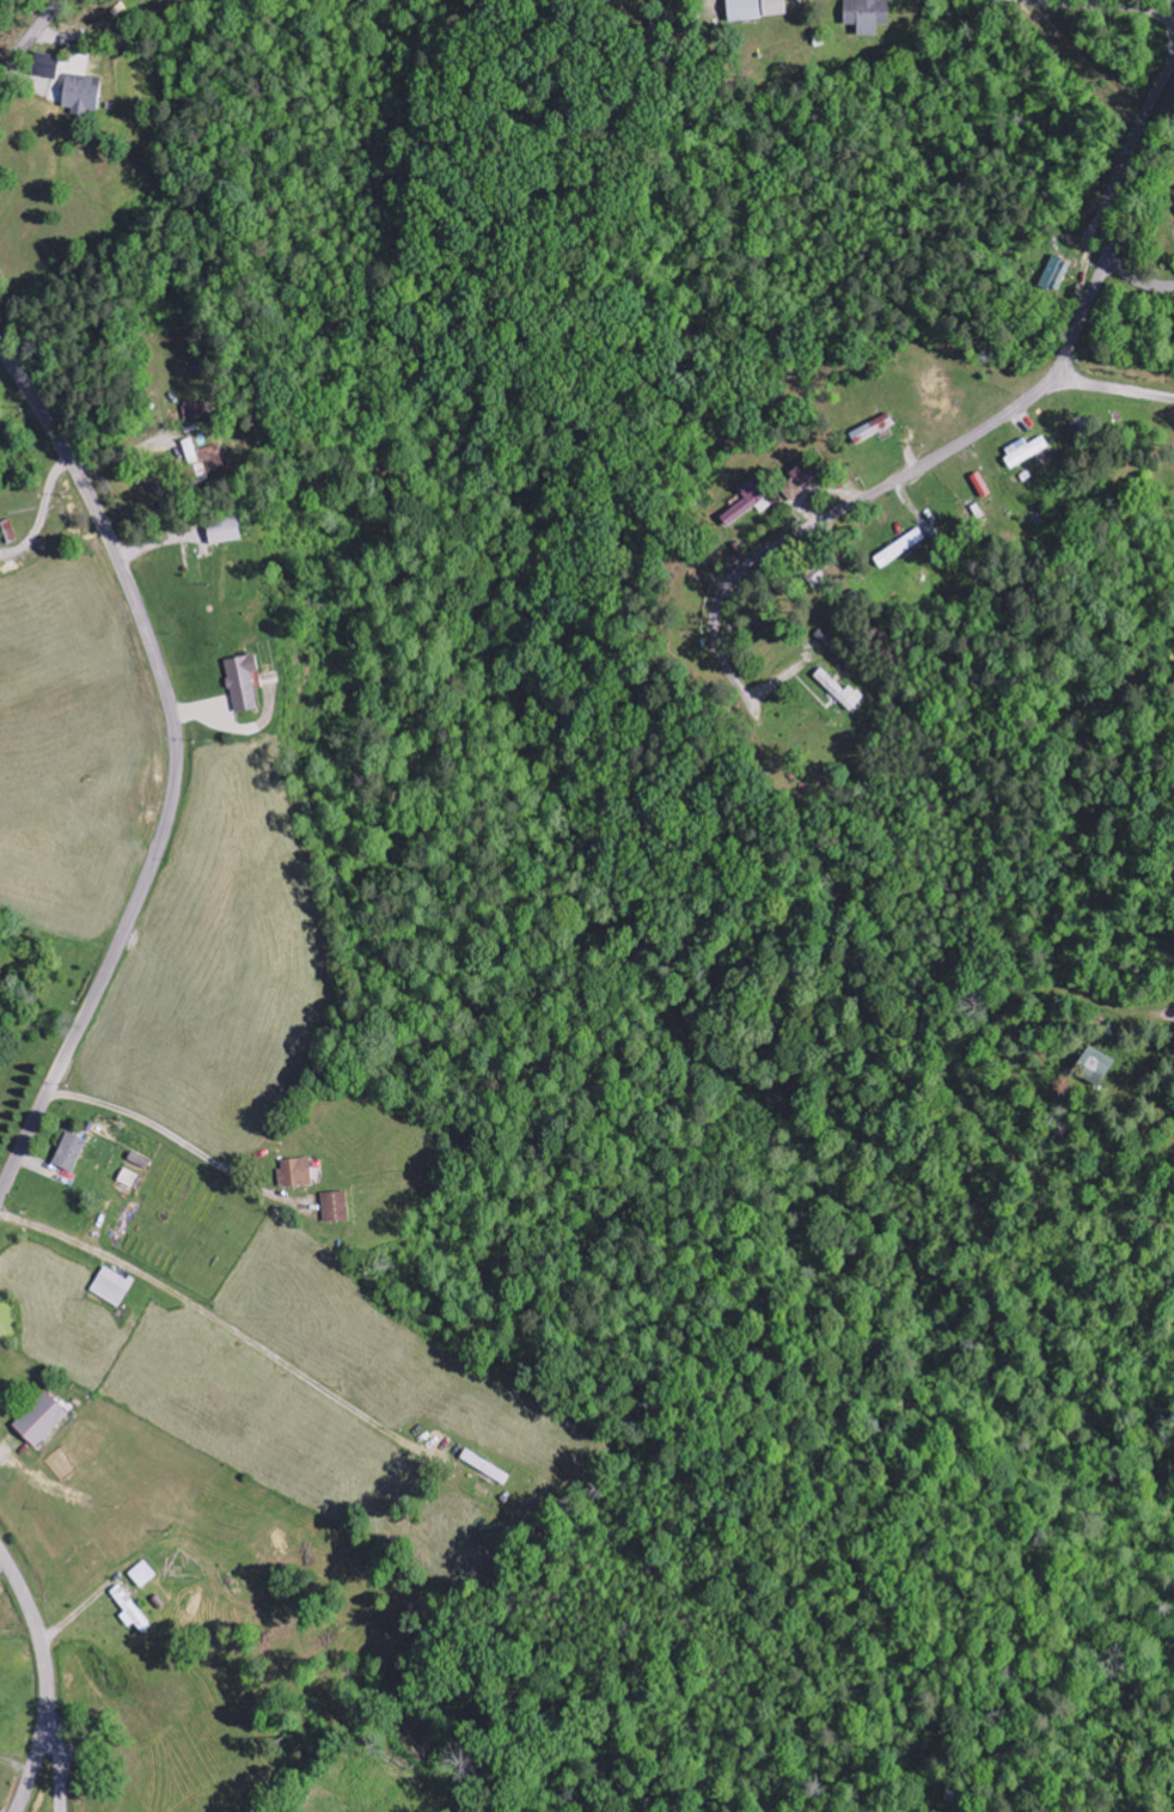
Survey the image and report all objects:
road: (1109, 6)
building: (776, 8)
building: (746, 11)
building: (869, 16)
road: (30, 38)
building: (47, 66)
building: (84, 94)
road: (1108, 187)
building: (1057, 275)
road: (1111, 385)
building: (197, 411)
building: (874, 429)
building: (1026, 452)
building: (806, 475)
road: (895, 482)
building: (793, 490)
building: (752, 504)
building: (226, 532)
building: (901, 549)
building: (244, 683)
building: (842, 691)
road: (178, 771)
building: (1097, 1068)
building: (72, 1153)
building: (298, 1175)
building: (129, 1179)
building: (337, 1208)
building: (112, 1288)
building: (0, 1410)
building: (43, 1420)
building: (488, 1468)
building: (143, 1575)
building: (130, 1609)
road: (45, 1679)
road: (53, 1750)

